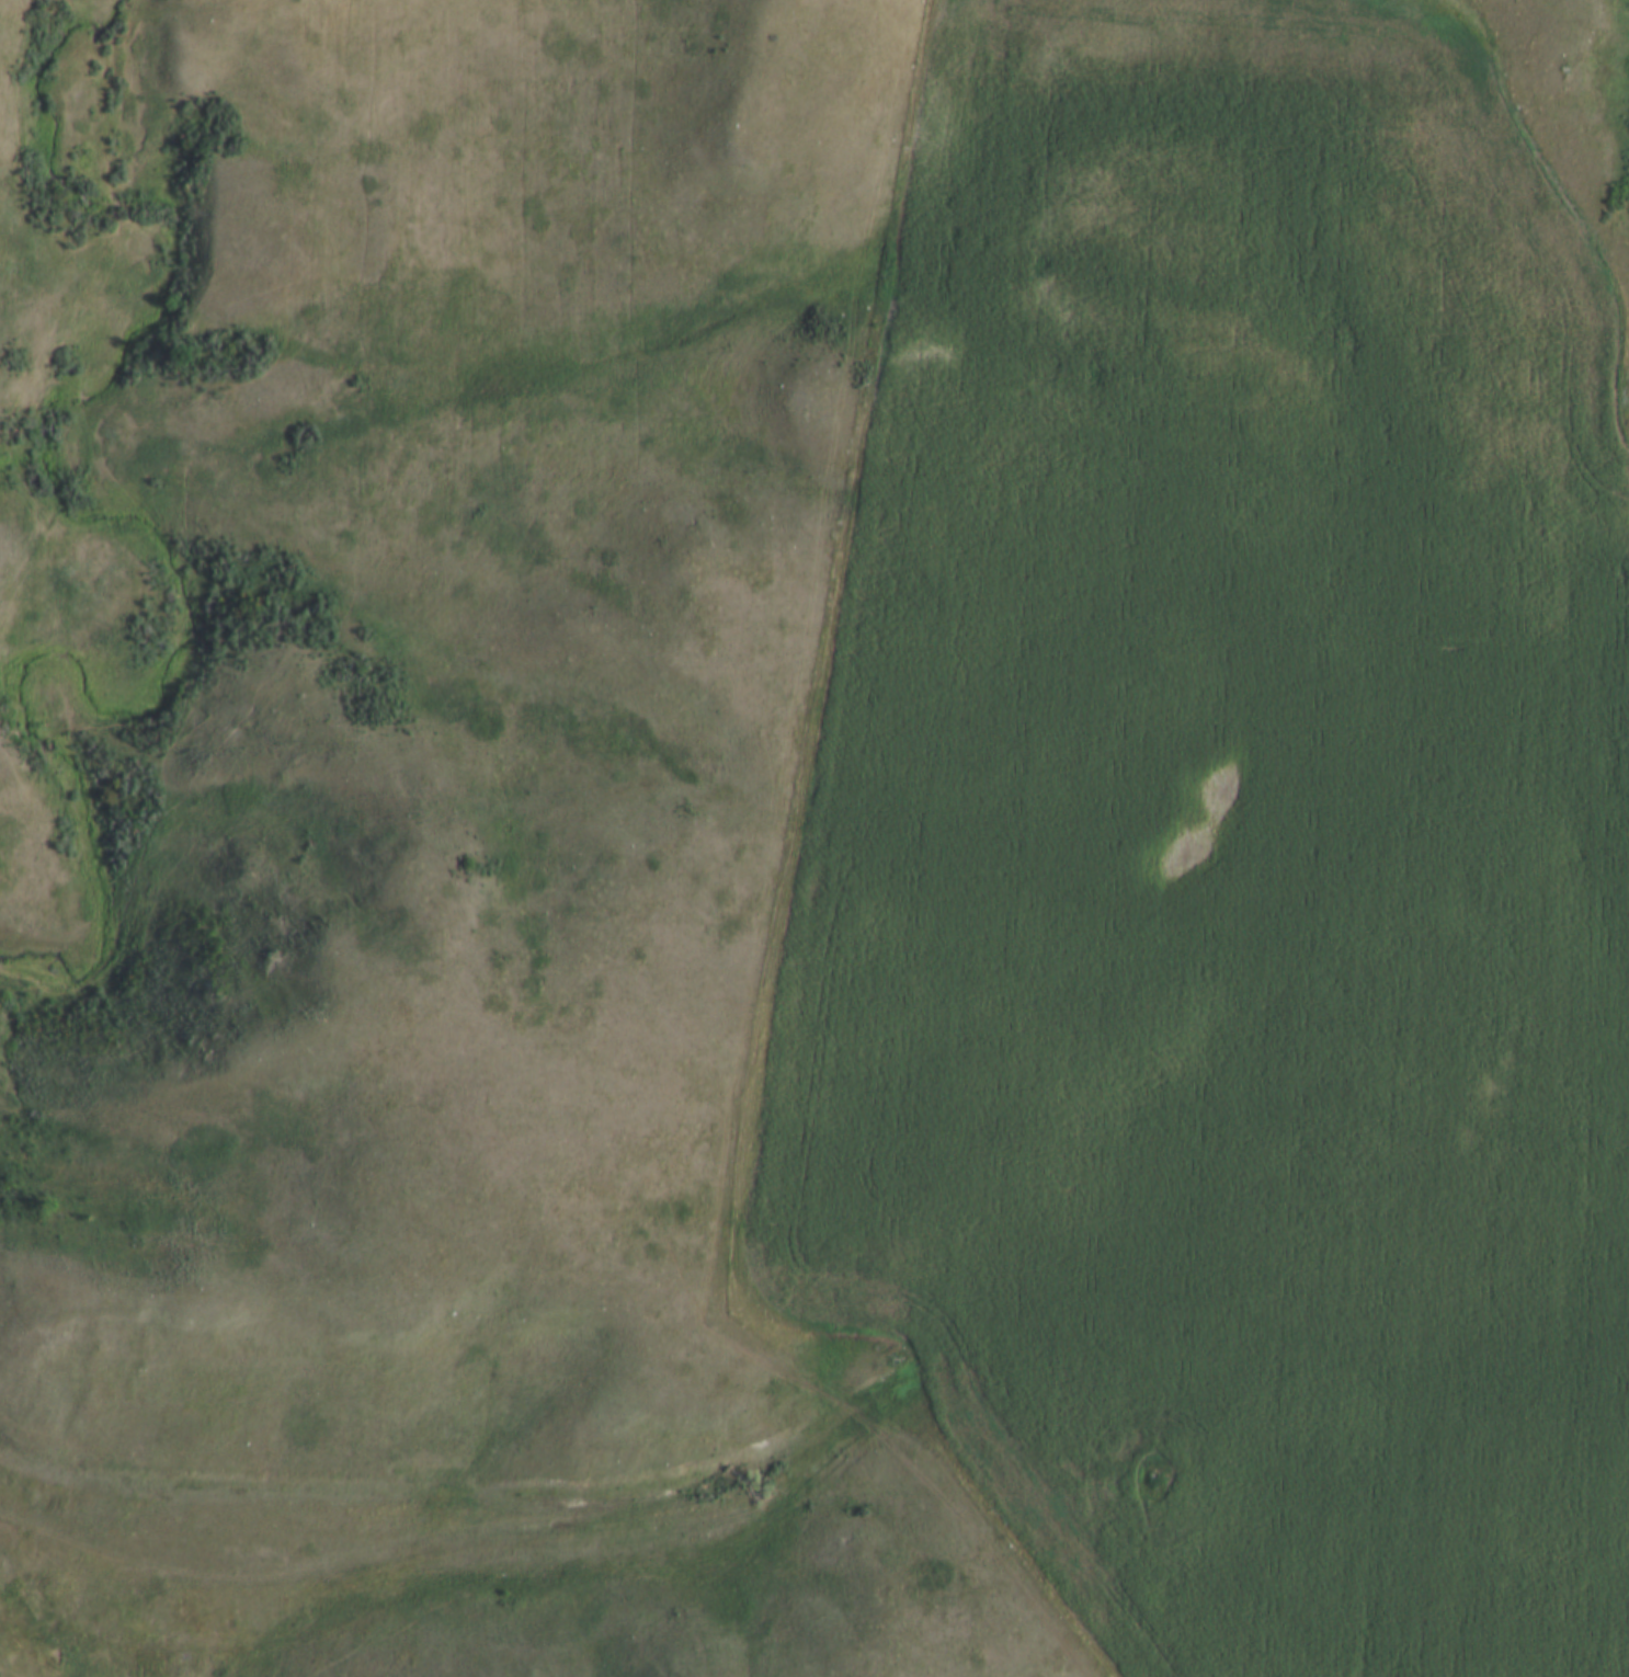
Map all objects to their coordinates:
road: (1125, 1366)

